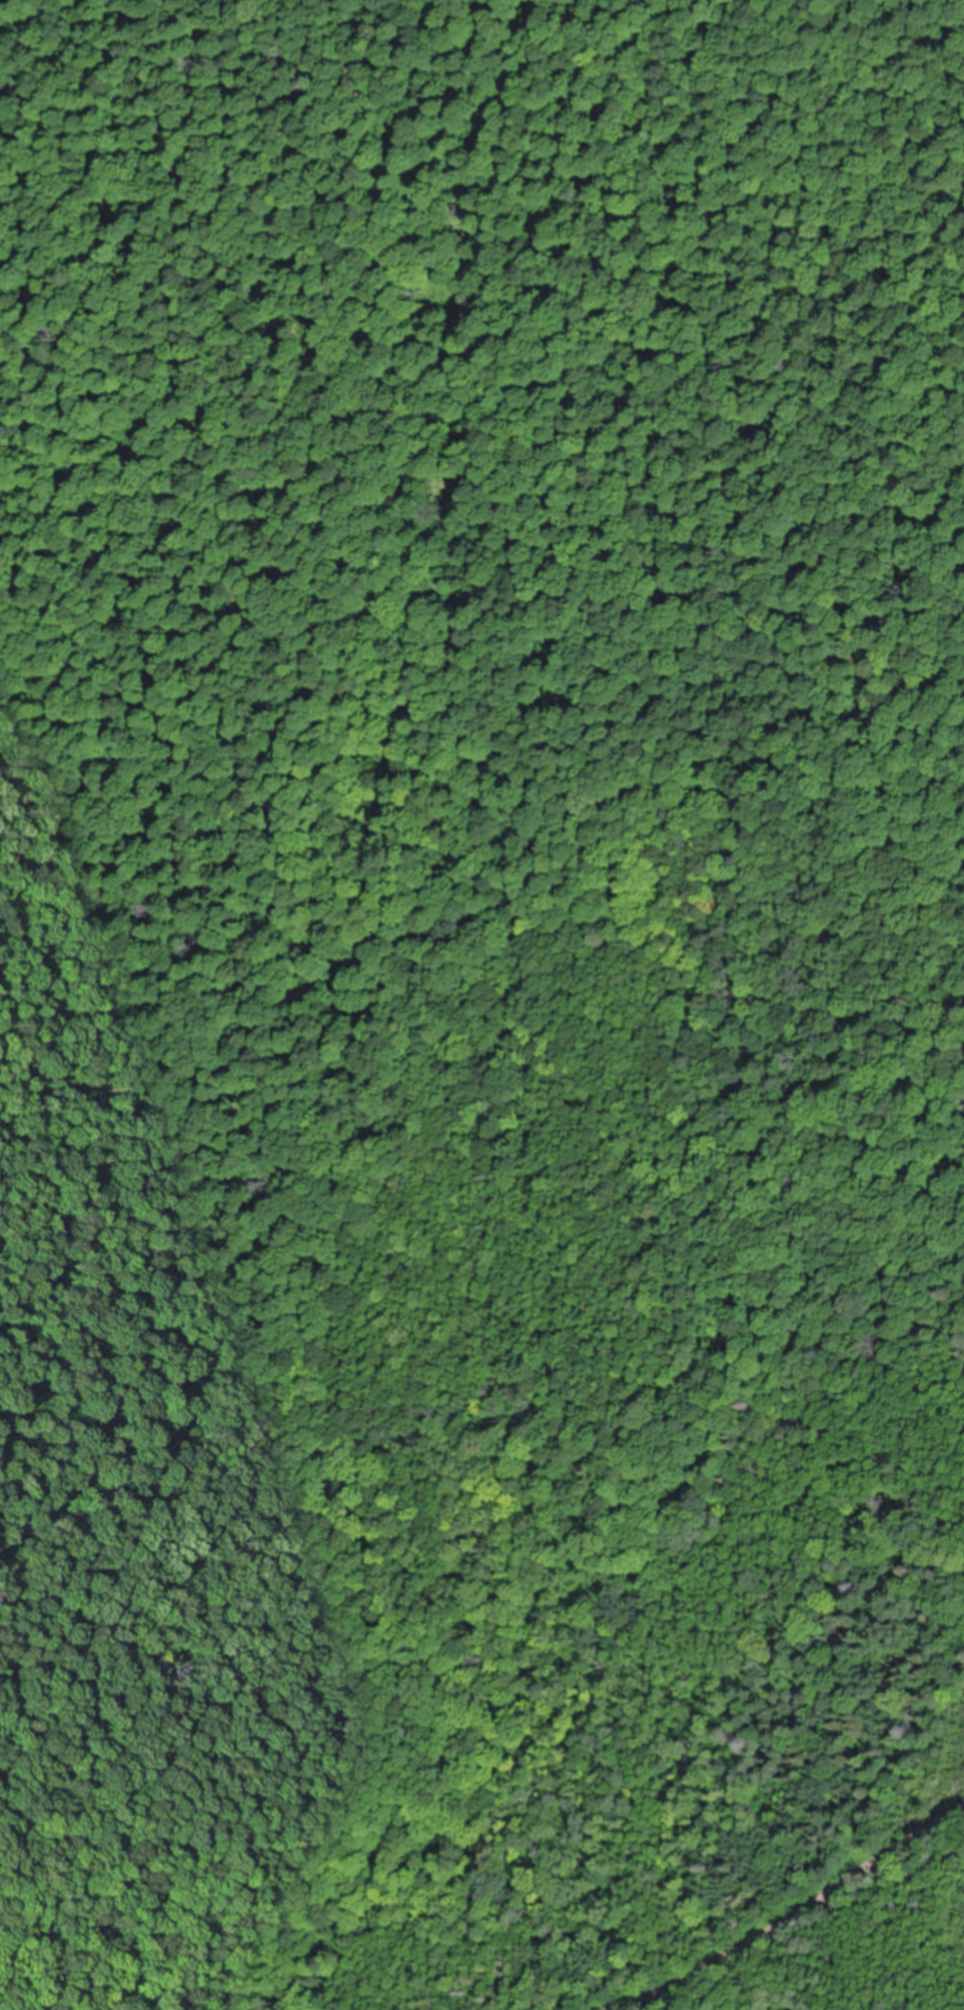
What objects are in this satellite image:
road: (794, 1916)

